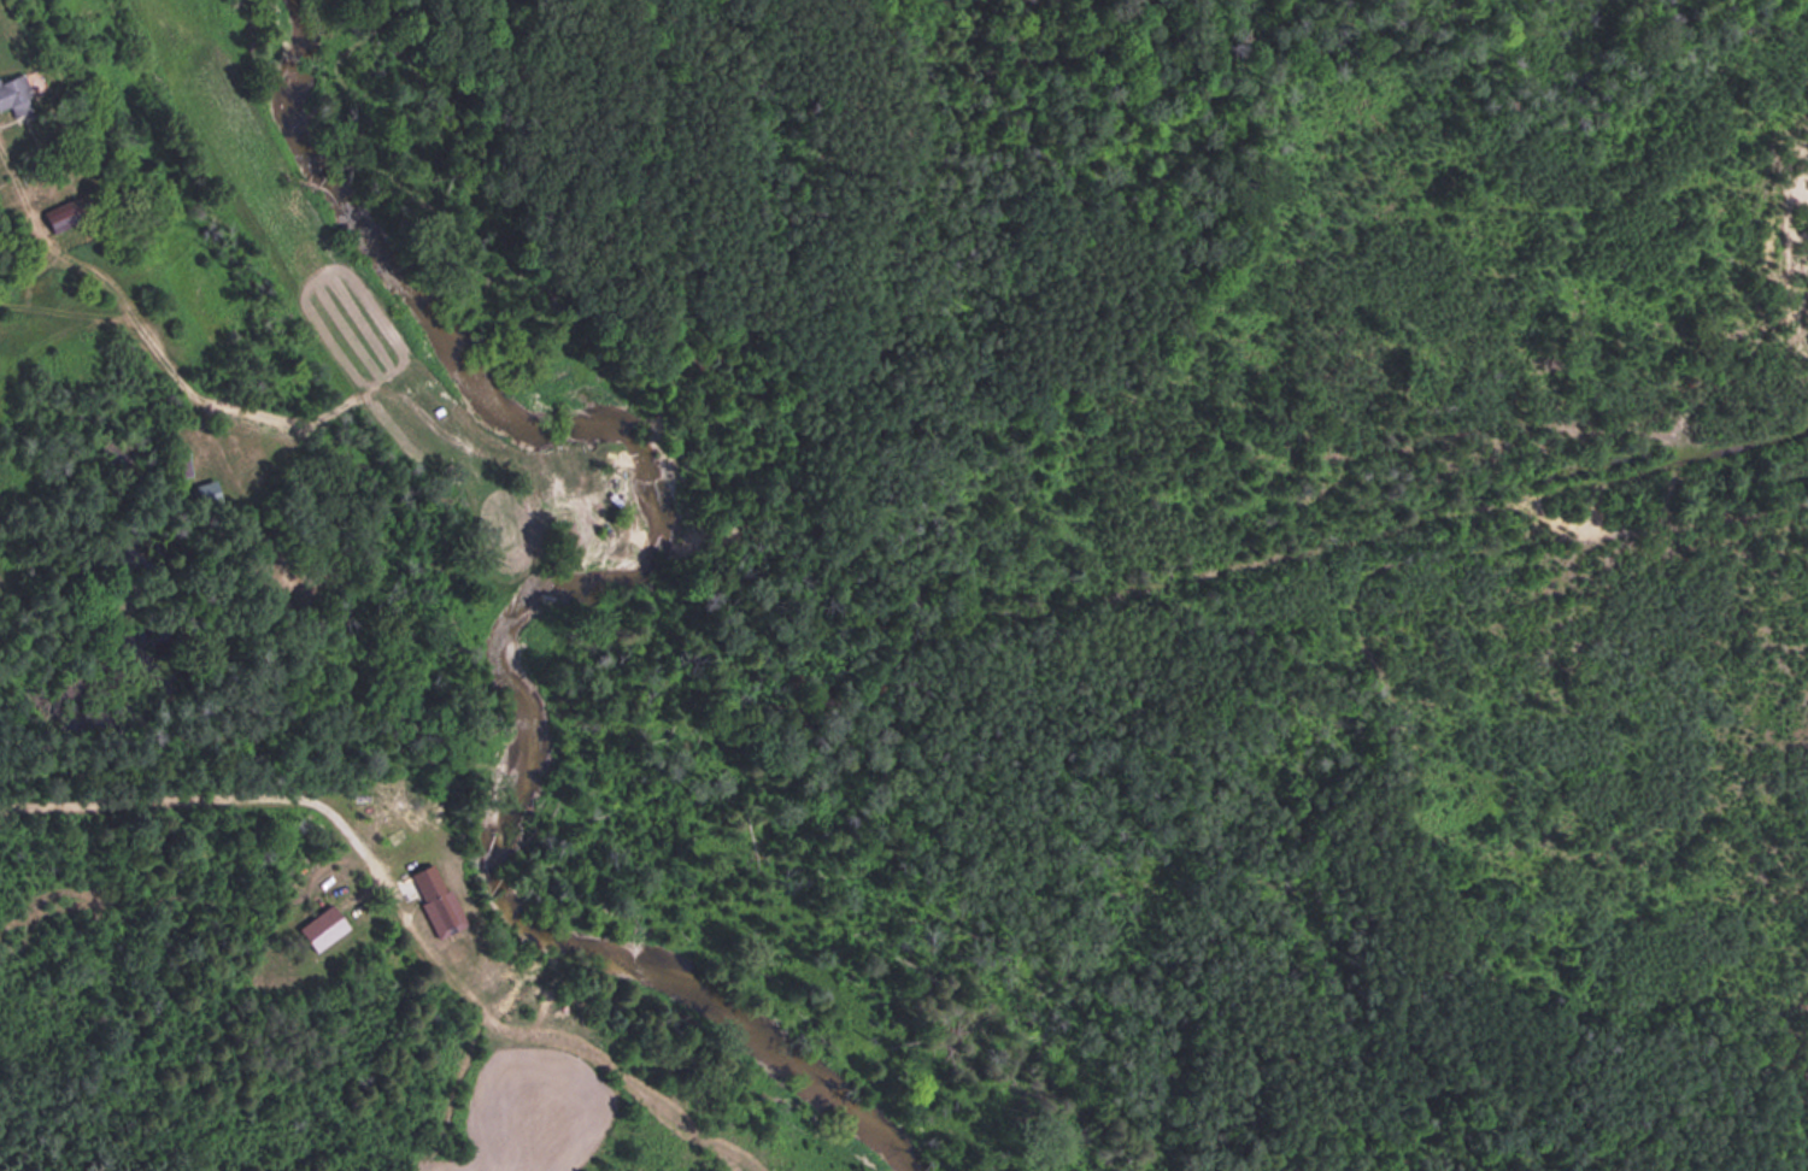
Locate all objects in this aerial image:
building: (14, 93)
building: (57, 213)
building: (205, 492)
river: (583, 617)
building: (434, 898)
building: (318, 926)

